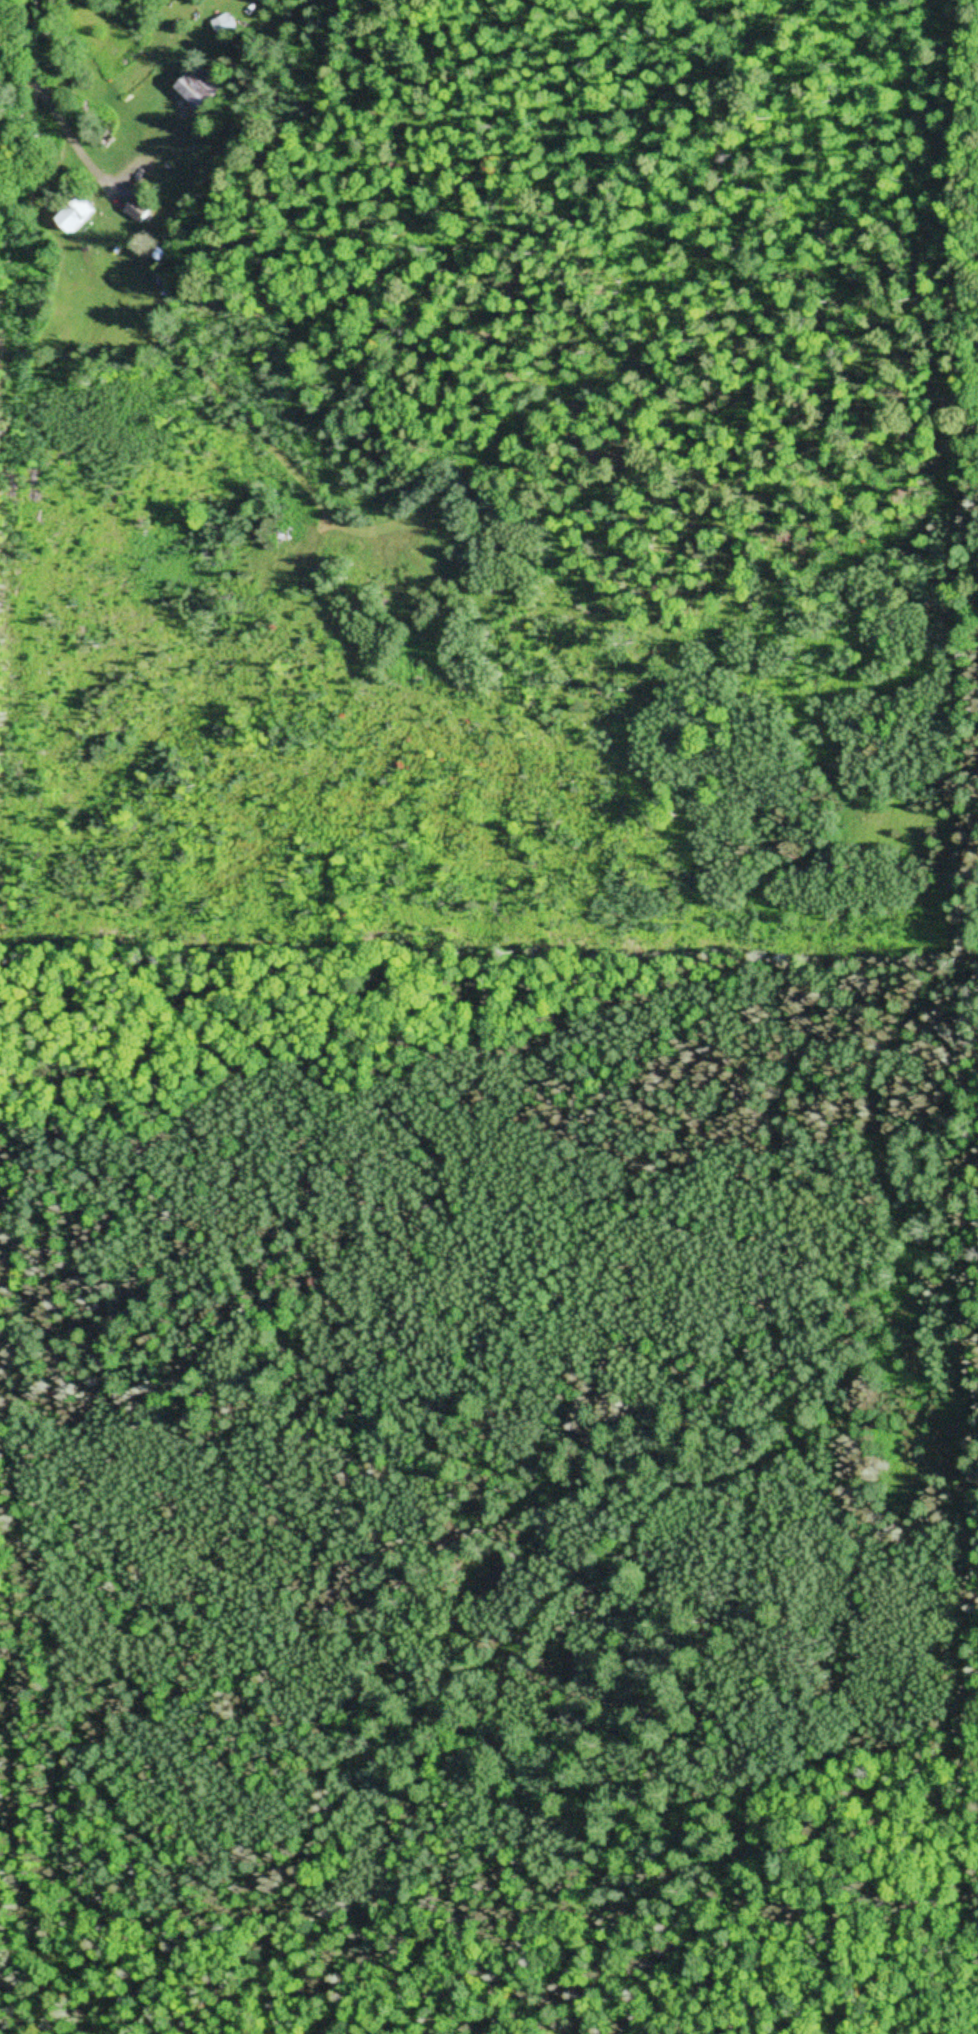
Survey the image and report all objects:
building: (226, 24)
road: (67, 80)
building: (144, 209)

